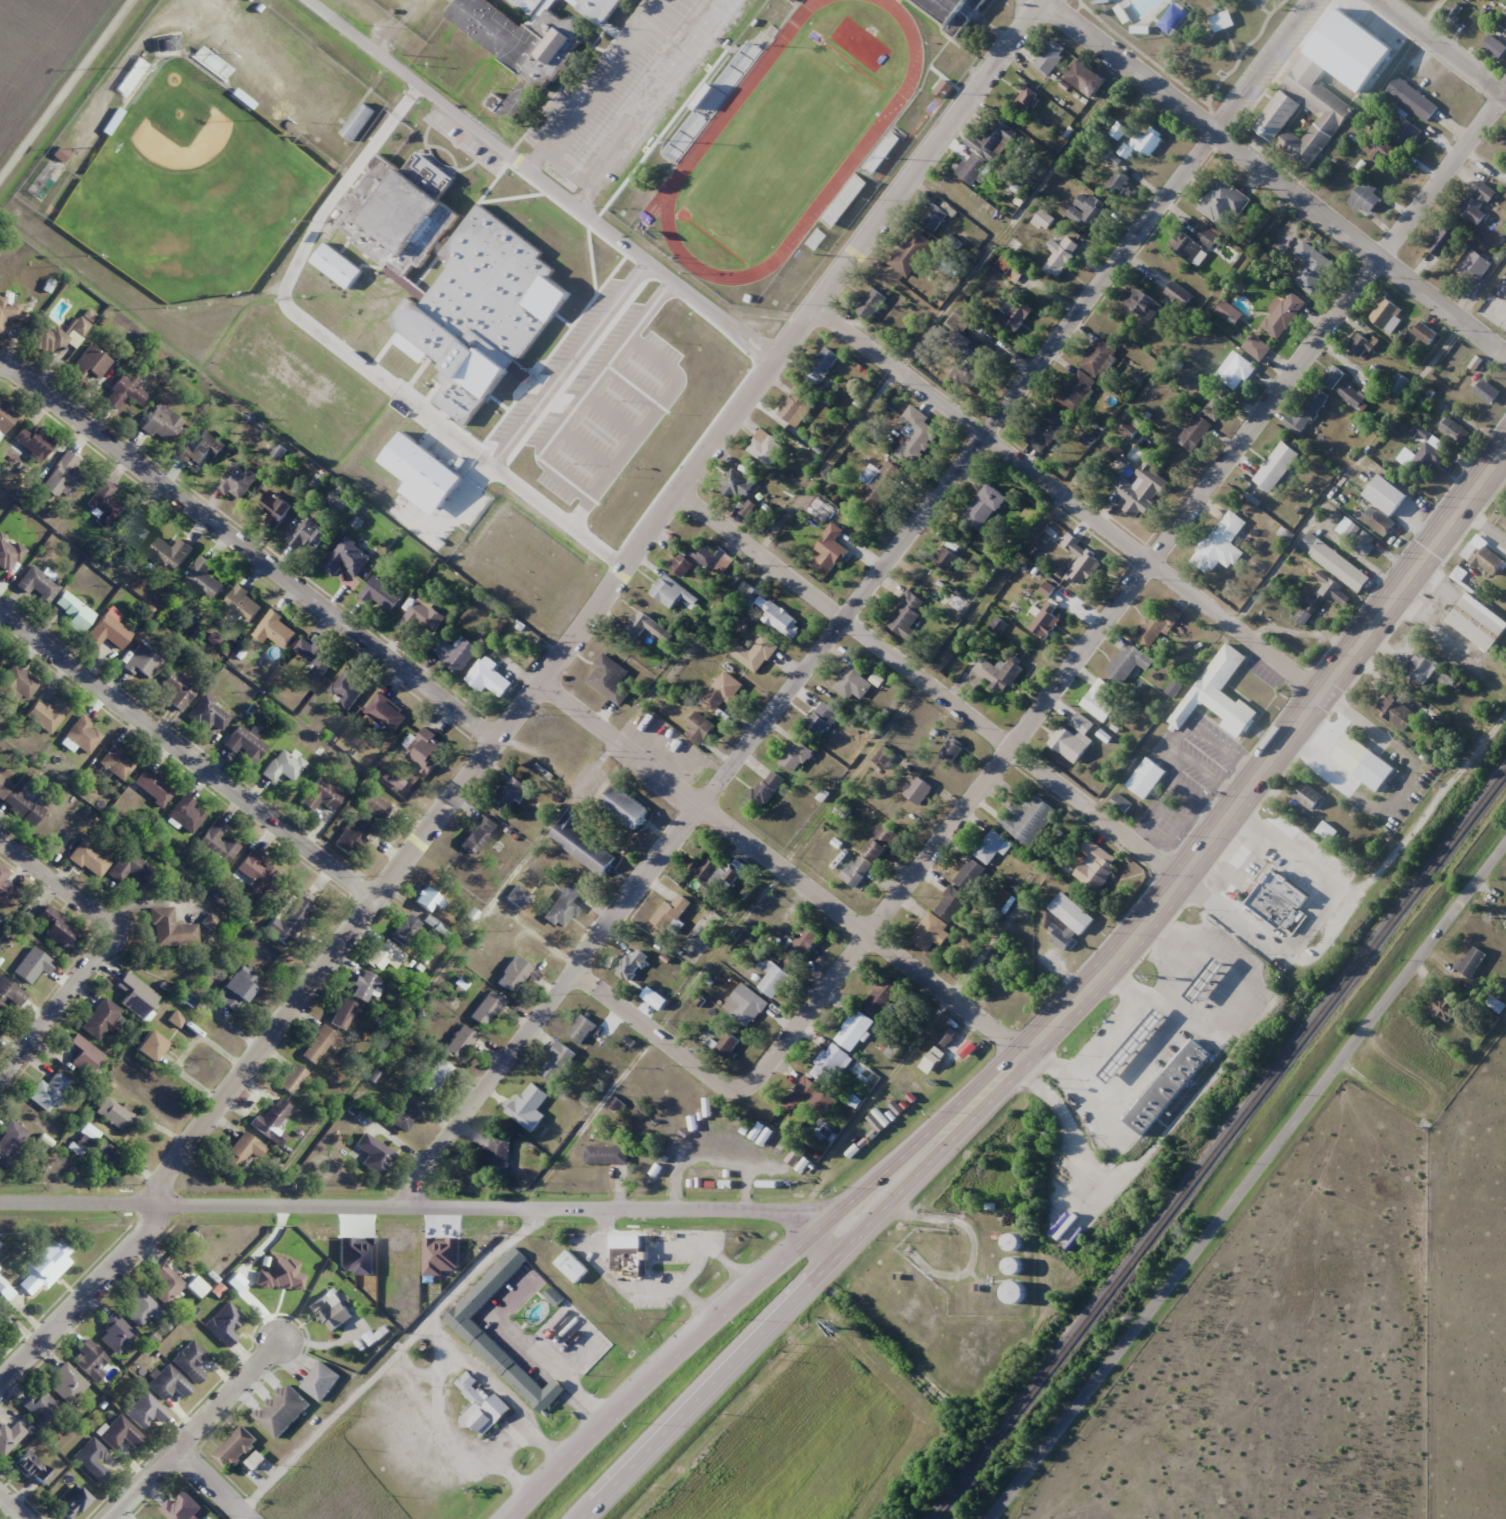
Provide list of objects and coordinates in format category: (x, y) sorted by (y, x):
building: (794, 1)
building: (954, 13)
building: (1221, 21)
building: (1504, 26)
building: (522, 36)
building: (166, 44)
road: (1443, 47)
building: (1495, 47)
crop: (39, 49)
building: (1353, 52)
building: (1050, 53)
building: (211, 63)
building: (134, 74)
building: (1085, 79)
road: (64, 84)
building: (490, 86)
building: (1026, 99)
building: (1414, 100)
building: (517, 102)
building: (111, 121)
building: (1273, 121)
building: (360, 124)
building: (1401, 131)
track: (791, 138)
building: (992, 139)
building: (1143, 141)
park: (781, 146)
building: (881, 153)
building: (60, 154)
road: (1275, 176)
road: (541, 181)
building: (1118, 183)
park: (191, 190)
building: (1365, 198)
building: (1222, 200)
building: (1476, 205)
building: (1086, 210)
building: (399, 212)
building: (933, 217)
building: (1044, 220)
building: (1206, 236)
building: (816, 239)
building: (1440, 241)
building: (1189, 249)
building: (910, 254)
building: (1060, 255)
building: (1472, 264)
building: (1312, 269)
building: (1178, 294)
building: (1142, 303)
building: (870, 304)
building: (8, 311)
building: (1014, 311)
building: (1282, 314)
building: (1386, 315)
building: (82, 321)
building: (1427, 334)
building: (50, 340)
building: (961, 343)
building: (1361, 346)
building: (1256, 348)
building: (1098, 358)
building: (90, 362)
building: (821, 366)
building: (1237, 373)
building: (1332, 376)
building: (1397, 383)
building: (1076, 390)
building: (123, 391)
building: (1487, 392)
building: (1352, 396)
building: (1216, 402)
building: (794, 408)
building: (1305, 411)
building: (6, 416)
building: (161, 424)
building: (1046, 428)
building: (1194, 432)
building: (915, 435)
road: (1103, 436)
building: (33, 442)
building: (765, 447)
building: (201, 448)
building: (1112, 450)
building: (1422, 458)
road: (1502, 459)
building: (1276, 466)
road: (1345, 473)
building: (61, 476)
building: (236, 479)
building: (736, 484)
building: (882, 484)
building: (1139, 488)
building: (1388, 498)
road: (1064, 500)
building: (103, 502)
building: (984, 507)
building: (272, 510)
building: (1379, 521)
building: (1503, 521)
building: (134, 528)
building: (308, 534)
building: (1359, 539)
building: (1221, 543)
road: (249, 548)
building: (830, 548)
building: (8, 553)
building: (170, 553)
building: (706, 555)
building: (945, 557)
building: (345, 558)
building: (1487, 560)
building: (680, 565)
building: (1083, 565)
building: (1340, 567)
building: (203, 578)
building: (36, 584)
building: (666, 592)
building: (748, 593)
building: (380, 595)
road: (1122, 597)
building: (1320, 598)
road: (860, 601)
road: (597, 603)
building: (238, 608)
building: (74, 611)
building: (905, 614)
building: (421, 617)
building: (780, 620)
building: (1045, 621)
building: (1479, 623)
building: (1156, 625)
building: (646, 627)
building: (274, 630)
building: (107, 632)
building: (753, 652)
building: (456, 653)
building: (0, 655)
building: (313, 659)
building: (142, 662)
building: (1124, 662)
building: (1424, 669)
building: (997, 670)
building: (488, 678)
building: (609, 679)
building: (853, 682)
building: (17, 683)
road: (928, 686)
building: (347, 688)
building: (176, 690)
building: (719, 692)
building: (1217, 694)
building: (1101, 700)
building: (1395, 711)
building: (385, 713)
building: (48, 714)
building: (208, 715)
building: (821, 719)
building: (698, 728)
building: (83, 735)
building: (1072, 737)
building: (245, 745)
building: (949, 748)
road: (191, 750)
building: (424, 752)
building: (795, 756)
building: (883, 757)
road: (1270, 757)
building: (117, 761)
building: (1366, 764)
building: (283, 766)
building: (1148, 781)
building: (4, 786)
building: (153, 787)
building: (916, 789)
building: (764, 790)
building: (509, 794)
building: (320, 795)
building: (1308, 796)
building: (1121, 803)
building: (24, 804)
building: (374, 806)
building: (625, 807)
building: (187, 814)
building: (1028, 819)
building: (352, 835)
building: (478, 835)
building: (218, 842)
building: (879, 842)
building: (581, 844)
building: (992, 847)
building: (89, 859)
building: (1094, 865)
building: (131, 869)
building: (255, 869)
building: (856, 870)
road: (778, 871)
building: (718, 873)
building: (969, 874)
road: (58, 882)
building: (4, 887)
road: (1358, 896)
building: (428, 899)
road: (155, 903)
building: (950, 904)
building: (563, 906)
building: (1278, 908)
building: (1073, 915)
building: (289, 917)
building: (669, 917)
building: (1505, 925)
building: (53, 927)
building: (170, 928)
building: (404, 930)
road: (1206, 931)
building: (928, 933)
building: (803, 943)
building: (380, 954)
building: (1472, 961)
building: (32, 964)
building: (627, 967)
building: (513, 974)
building: (774, 981)
building: (1210, 982)
building: (364, 986)
building: (237, 988)
road: (1125, 989)
building: (10, 993)
building: (136, 995)
building: (880, 997)
road: (58, 1001)
building: (745, 1005)
building: (1444, 1008)
building: (486, 1009)
building: (343, 1014)
road: (1133, 1018)
building: (100, 1020)
building: (581, 1029)
building: (853, 1030)
road: (655, 1037)
building: (459, 1042)
building: (319, 1043)
building: (941, 1043)
building: (726, 1045)
building: (151, 1046)
building: (1136, 1048)
building: (84, 1055)
building: (831, 1062)
building: (557, 1063)
building: (433, 1075)
building: (291, 1078)
building: (1172, 1088)
building: (48, 1091)
building: (808, 1099)
building: (528, 1107)
building: (115, 1112)
building: (405, 1112)
building: (272, 1118)
building: (10, 1140)
railway: (1220, 1144)
building: (95, 1149)
building: (242, 1150)
building: (371, 1154)
building: (499, 1154)
building: (606, 1155)
road: (1247, 1181)
road: (426, 1205)
building: (1013, 1242)
building: (630, 1259)
road: (693, 1265)
building: (1014, 1265)
building: (45, 1266)
building: (575, 1268)
road: (611, 1277)
road: (762, 1279)
building: (1, 1282)
building: (165, 1284)
road: (804, 1288)
building: (1014, 1292)
road: (89, 1294)
building: (141, 1308)
building: (330, 1311)
building: (223, 1324)
building: (115, 1334)
building: (488, 1348)
building: (89, 1361)
building: (190, 1361)
road: (558, 1374)
building: (321, 1381)
building: (65, 1383)
building: (166, 1383)
building: (39, 1406)
building: (482, 1408)
building: (282, 1410)
building: (145, 1411)
road: (199, 1430)
building: (119, 1433)
building: (9, 1437)
building: (236, 1448)
building: (91, 1459)
building: (33, 1468)
road: (210, 1486)
building: (72, 1501)
road: (12, 1506)
building: (183, 1508)

